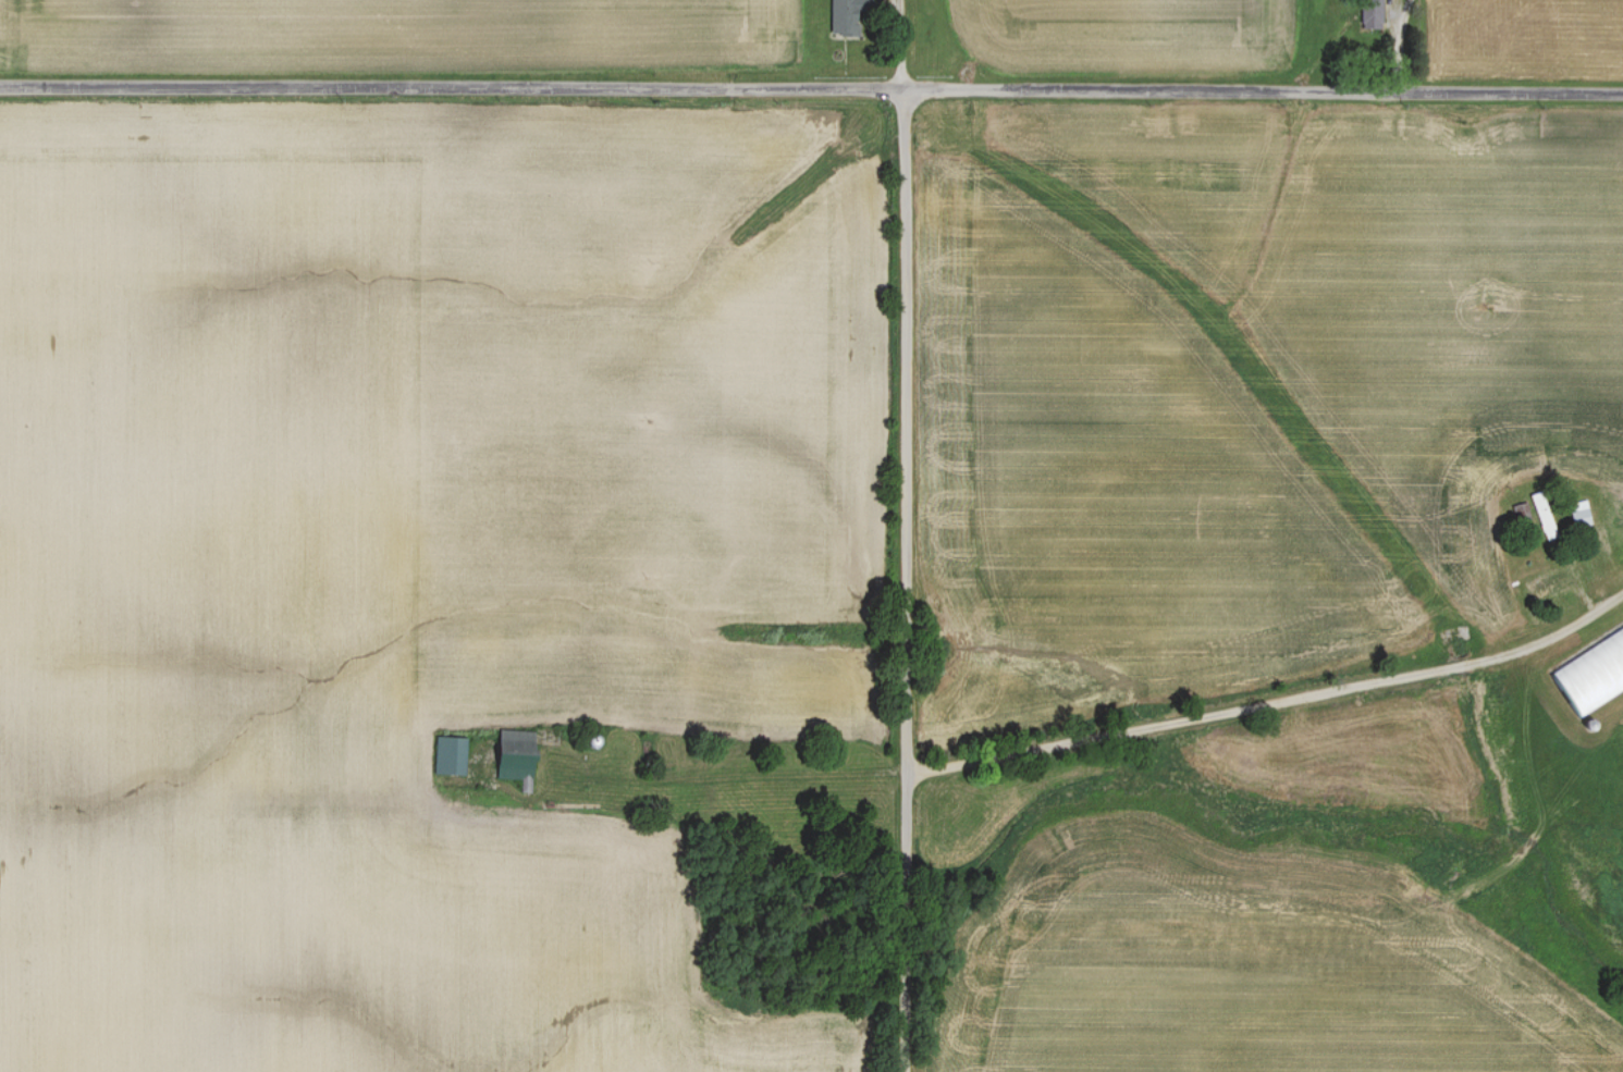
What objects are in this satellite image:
building: (850, 12)
road: (900, 45)
road: (1397, 45)
road: (811, 89)
road: (1572, 546)
road: (906, 580)
building: (1551, 582)
road: (1607, 609)
road: (1252, 707)
road: (724, 786)

